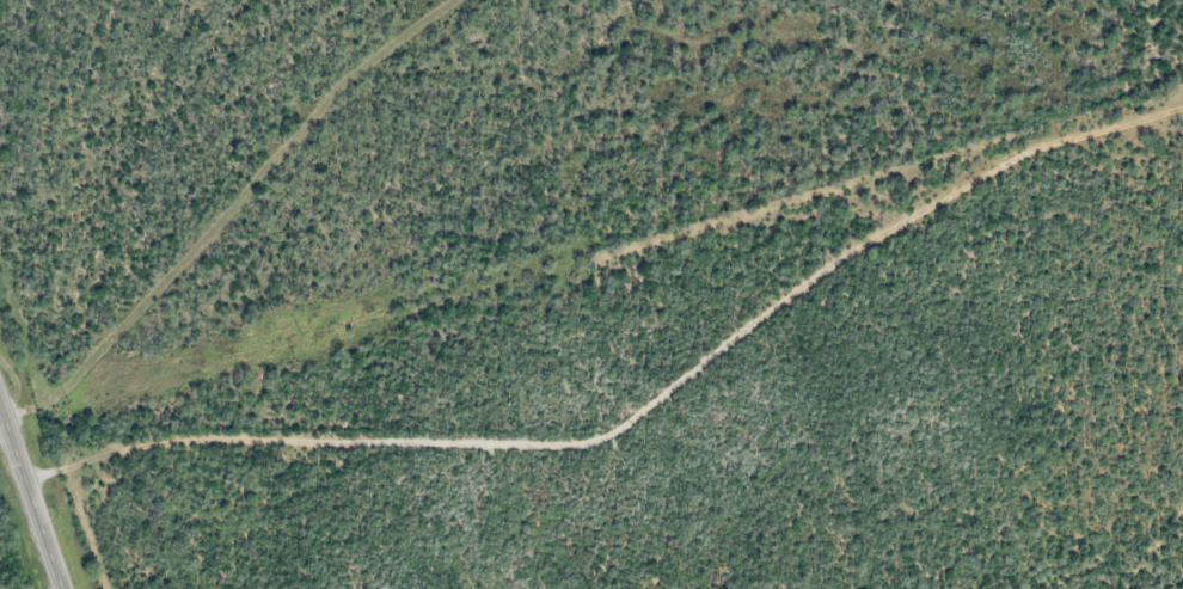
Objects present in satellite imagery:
road: (30, 498)

